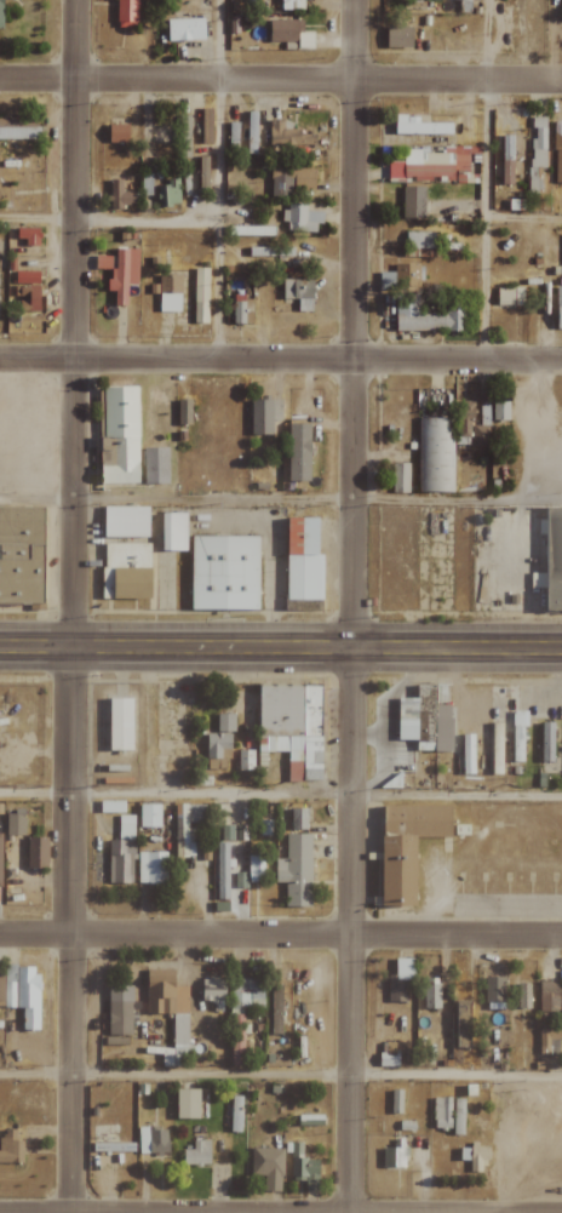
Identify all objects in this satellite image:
building: (477, 0)
building: (1, 13)
building: (126, 13)
building: (187, 29)
building: (288, 32)
building: (397, 36)
road: (218, 40)
road: (486, 40)
road: (280, 81)
building: (206, 126)
building: (420, 126)
building: (18, 128)
building: (251, 132)
building: (119, 133)
building: (183, 136)
building: (231, 137)
building: (288, 137)
building: (537, 154)
building: (557, 156)
building: (507, 159)
building: (432, 164)
building: (203, 174)
building: (291, 181)
building: (145, 184)
building: (168, 193)
building: (120, 195)
building: (413, 202)
road: (38, 218)
road: (145, 218)
building: (300, 218)
road: (523, 218)
road: (214, 221)
road: (483, 221)
building: (28, 235)
building: (420, 240)
building: (103, 263)
building: (124, 273)
building: (406, 275)
building: (27, 277)
building: (168, 292)
building: (299, 292)
building: (201, 294)
building: (510, 296)
building: (27, 297)
building: (558, 307)
building: (241, 311)
building: (425, 316)
road: (280, 361)
building: (500, 410)
building: (184, 412)
building: (264, 416)
building: (464, 419)
building: (121, 435)
building: (480, 435)
building: (298, 452)
building: (435, 454)
building: (155, 465)
building: (400, 477)
road: (317, 499)
building: (127, 521)
building: (174, 531)
building: (22, 555)
building: (303, 559)
building: (556, 560)
building: (127, 570)
building: (225, 572)
road: (73, 606)
road: (352, 606)
road: (281, 645)
building: (225, 722)
building: (122, 723)
building: (292, 727)
building: (546, 742)
building: (517, 743)
building: (497, 748)
building: (217, 750)
building: (468, 754)
building: (245, 760)
road: (36, 793)
road: (316, 794)
building: (149, 816)
building: (298, 818)
building: (15, 825)
building: (185, 826)
building: (409, 847)
building: (38, 853)
building: (0, 857)
building: (120, 860)
building: (150, 868)
building: (254, 868)
building: (296, 870)
building: (222, 871)
building: (239, 880)
road: (281, 934)
building: (400, 979)
building: (0, 986)
building: (494, 990)
building: (213, 991)
building: (23, 992)
building: (431, 996)
building: (549, 996)
building: (523, 1003)
building: (120, 1009)
building: (275, 1009)
building: (242, 1012)
building: (461, 1024)
building: (180, 1030)
building: (549, 1040)
road: (281, 1074)
building: (396, 1102)
building: (188, 1103)
building: (235, 1114)
building: (449, 1114)
building: (153, 1142)
building: (10, 1148)
building: (113, 1148)
building: (196, 1154)
building: (394, 1157)
building: (477, 1157)
building: (268, 1167)
building: (306, 1172)

